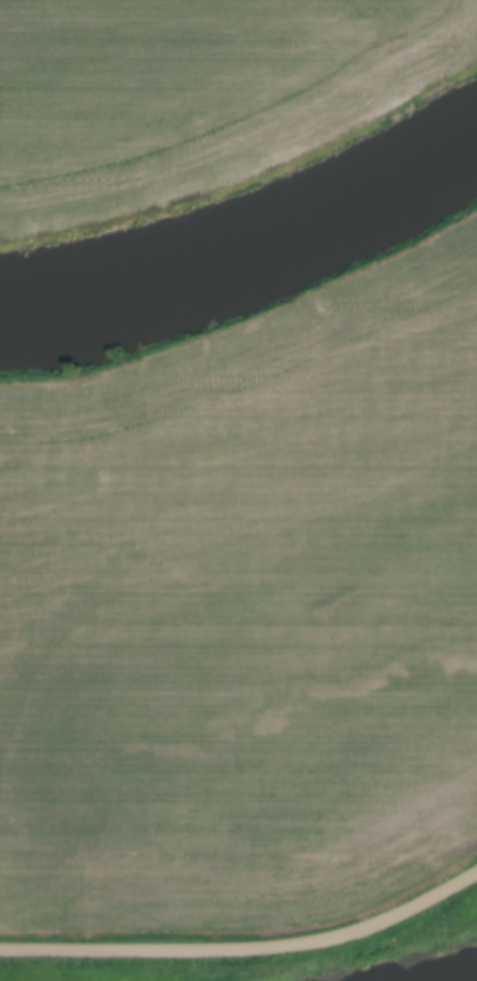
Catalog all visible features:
river: (248, 263)
road: (246, 951)

